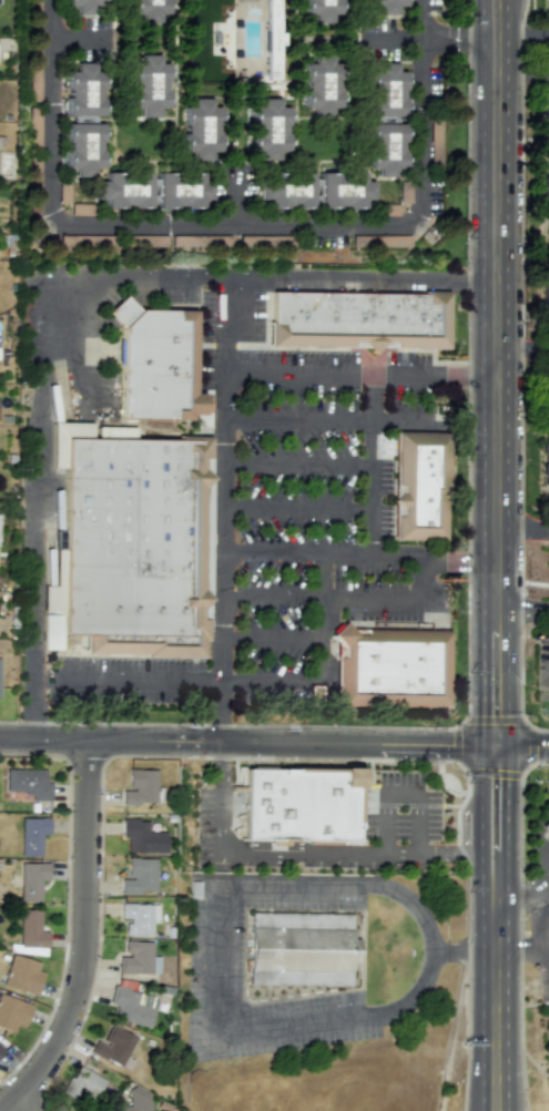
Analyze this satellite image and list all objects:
building: (547, 2)
building: (84, 6)
building: (386, 6)
building: (149, 9)
building: (322, 11)
road: (295, 19)
building: (272, 29)
road: (518, 31)
road: (543, 31)
road: (475, 37)
road: (389, 38)
road: (436, 38)
road: (71, 39)
road: (523, 72)
building: (149, 85)
building: (321, 85)
building: (83, 90)
building: (386, 91)
building: (545, 105)
building: (201, 130)
building: (268, 130)
road: (295, 132)
building: (83, 147)
building: (386, 149)
building: (125, 190)
building: (182, 190)
building: (344, 190)
road: (236, 200)
building: (546, 208)
road: (232, 225)
road: (362, 281)
building: (546, 291)
building: (356, 319)
road: (337, 348)
building: (156, 364)
road: (367, 370)
road: (408, 370)
road: (470, 371)
road: (499, 374)
road: (520, 374)
road: (39, 419)
road: (298, 419)
road: (401, 421)
road: (296, 460)
building: (546, 461)
road: (221, 480)
parking lot: (307, 481)
building: (417, 488)
road: (295, 504)
road: (535, 528)
road: (509, 529)
road: (370, 530)
building: (132, 548)
road: (294, 549)
road: (395, 552)
road: (459, 564)
road: (468, 593)
road: (271, 598)
road: (395, 598)
road: (523, 604)
road: (325, 616)
road: (271, 635)
building: (388, 669)
road: (134, 680)
parking lot: (124, 683)
road: (270, 684)
road: (214, 712)
road: (248, 743)
road: (523, 747)
road: (499, 752)
road: (433, 760)
road: (369, 763)
road: (481, 773)
road: (492, 773)
building: (28, 783)
building: (140, 786)
road: (406, 793)
road: (220, 797)
road: (359, 802)
building: (298, 804)
road: (410, 805)
parking lot: (399, 807)
road: (387, 824)
road: (423, 825)
road: (506, 825)
road: (480, 826)
building: (545, 826)
building: (32, 835)
building: (141, 837)
road: (349, 854)
road: (482, 875)
building: (139, 876)
building: (30, 879)
road: (541, 884)
road: (293, 886)
road: (512, 891)
road: (541, 891)
road: (539, 900)
road: (547, 909)
building: (136, 918)
road: (491, 918)
road: (520, 927)
road: (547, 928)
building: (31, 929)
road: (88, 939)
building: (298, 950)
road: (491, 950)
parking lot: (216, 951)
road: (520, 954)
road: (431, 955)
road: (461, 955)
building: (138, 958)
road: (218, 958)
building: (22, 975)
road: (535, 1003)
building: (132, 1006)
building: (12, 1012)
road: (288, 1026)
road: (491, 1033)
building: (113, 1046)
building: (1, 1050)
road: (533, 1064)
building: (83, 1084)
building: (138, 1100)
road: (24, 1103)

